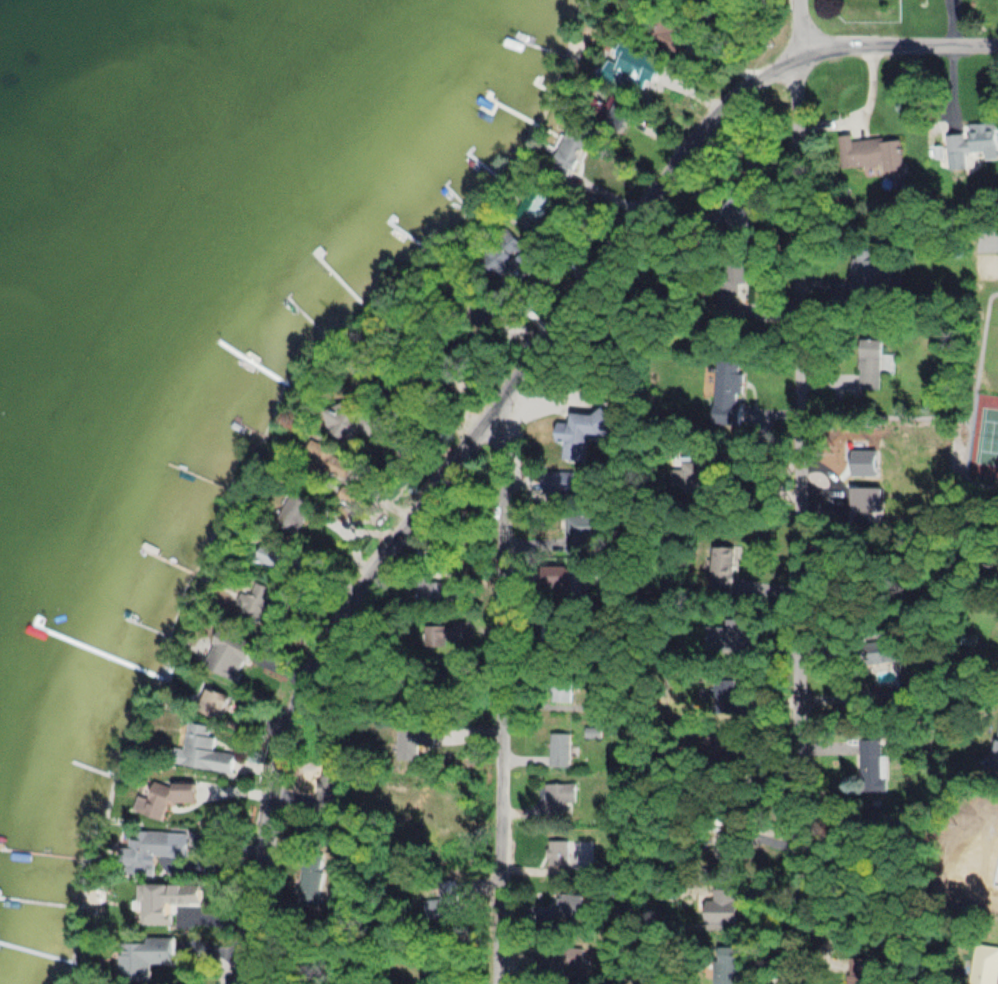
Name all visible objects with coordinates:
building: (634, 71)
building: (621, 116)
building: (977, 143)
building: (870, 151)
building: (568, 153)
building: (754, 159)
building: (738, 212)
building: (498, 262)
park: (986, 265)
building: (870, 275)
building: (728, 297)
building: (872, 363)
building: (727, 391)
park: (977, 394)
road: (506, 401)
road: (941, 413)
building: (343, 425)
building: (375, 429)
building: (581, 436)
park: (986, 442)
building: (558, 481)
road: (791, 491)
building: (352, 493)
building: (292, 515)
building: (582, 530)
building: (269, 554)
building: (722, 569)
building: (566, 580)
building: (435, 592)
building: (245, 601)
building: (445, 633)
building: (724, 636)
building: (882, 652)
building: (228, 655)
building: (560, 690)
building: (885, 692)
road: (502, 694)
building: (214, 702)
building: (408, 745)
building: (996, 747)
building: (201, 749)
building: (559, 749)
building: (871, 765)
building: (172, 795)
building: (558, 799)
building: (143, 850)
building: (558, 854)
building: (312, 860)
building: (308, 892)
building: (444, 902)
building: (570, 905)
building: (146, 956)
building: (552, 962)
building: (985, 963)

